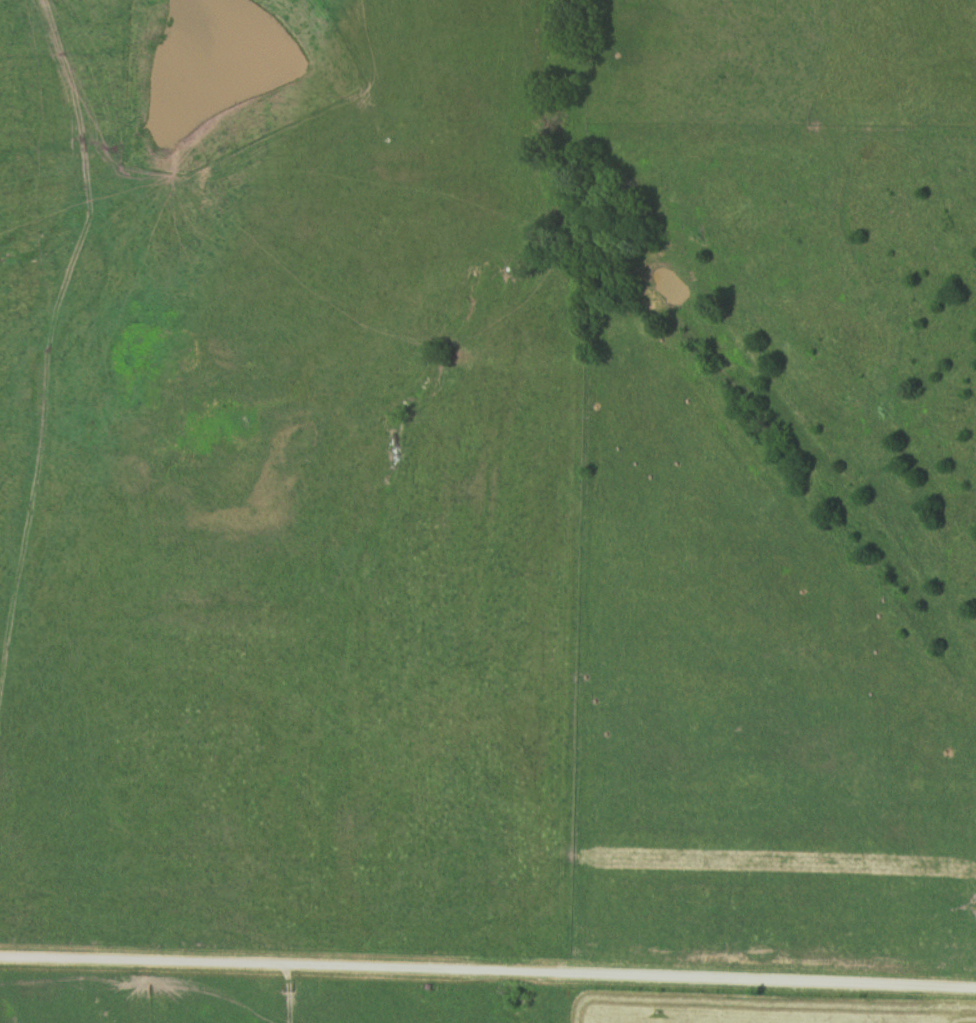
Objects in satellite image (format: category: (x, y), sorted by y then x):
road: (488, 968)

